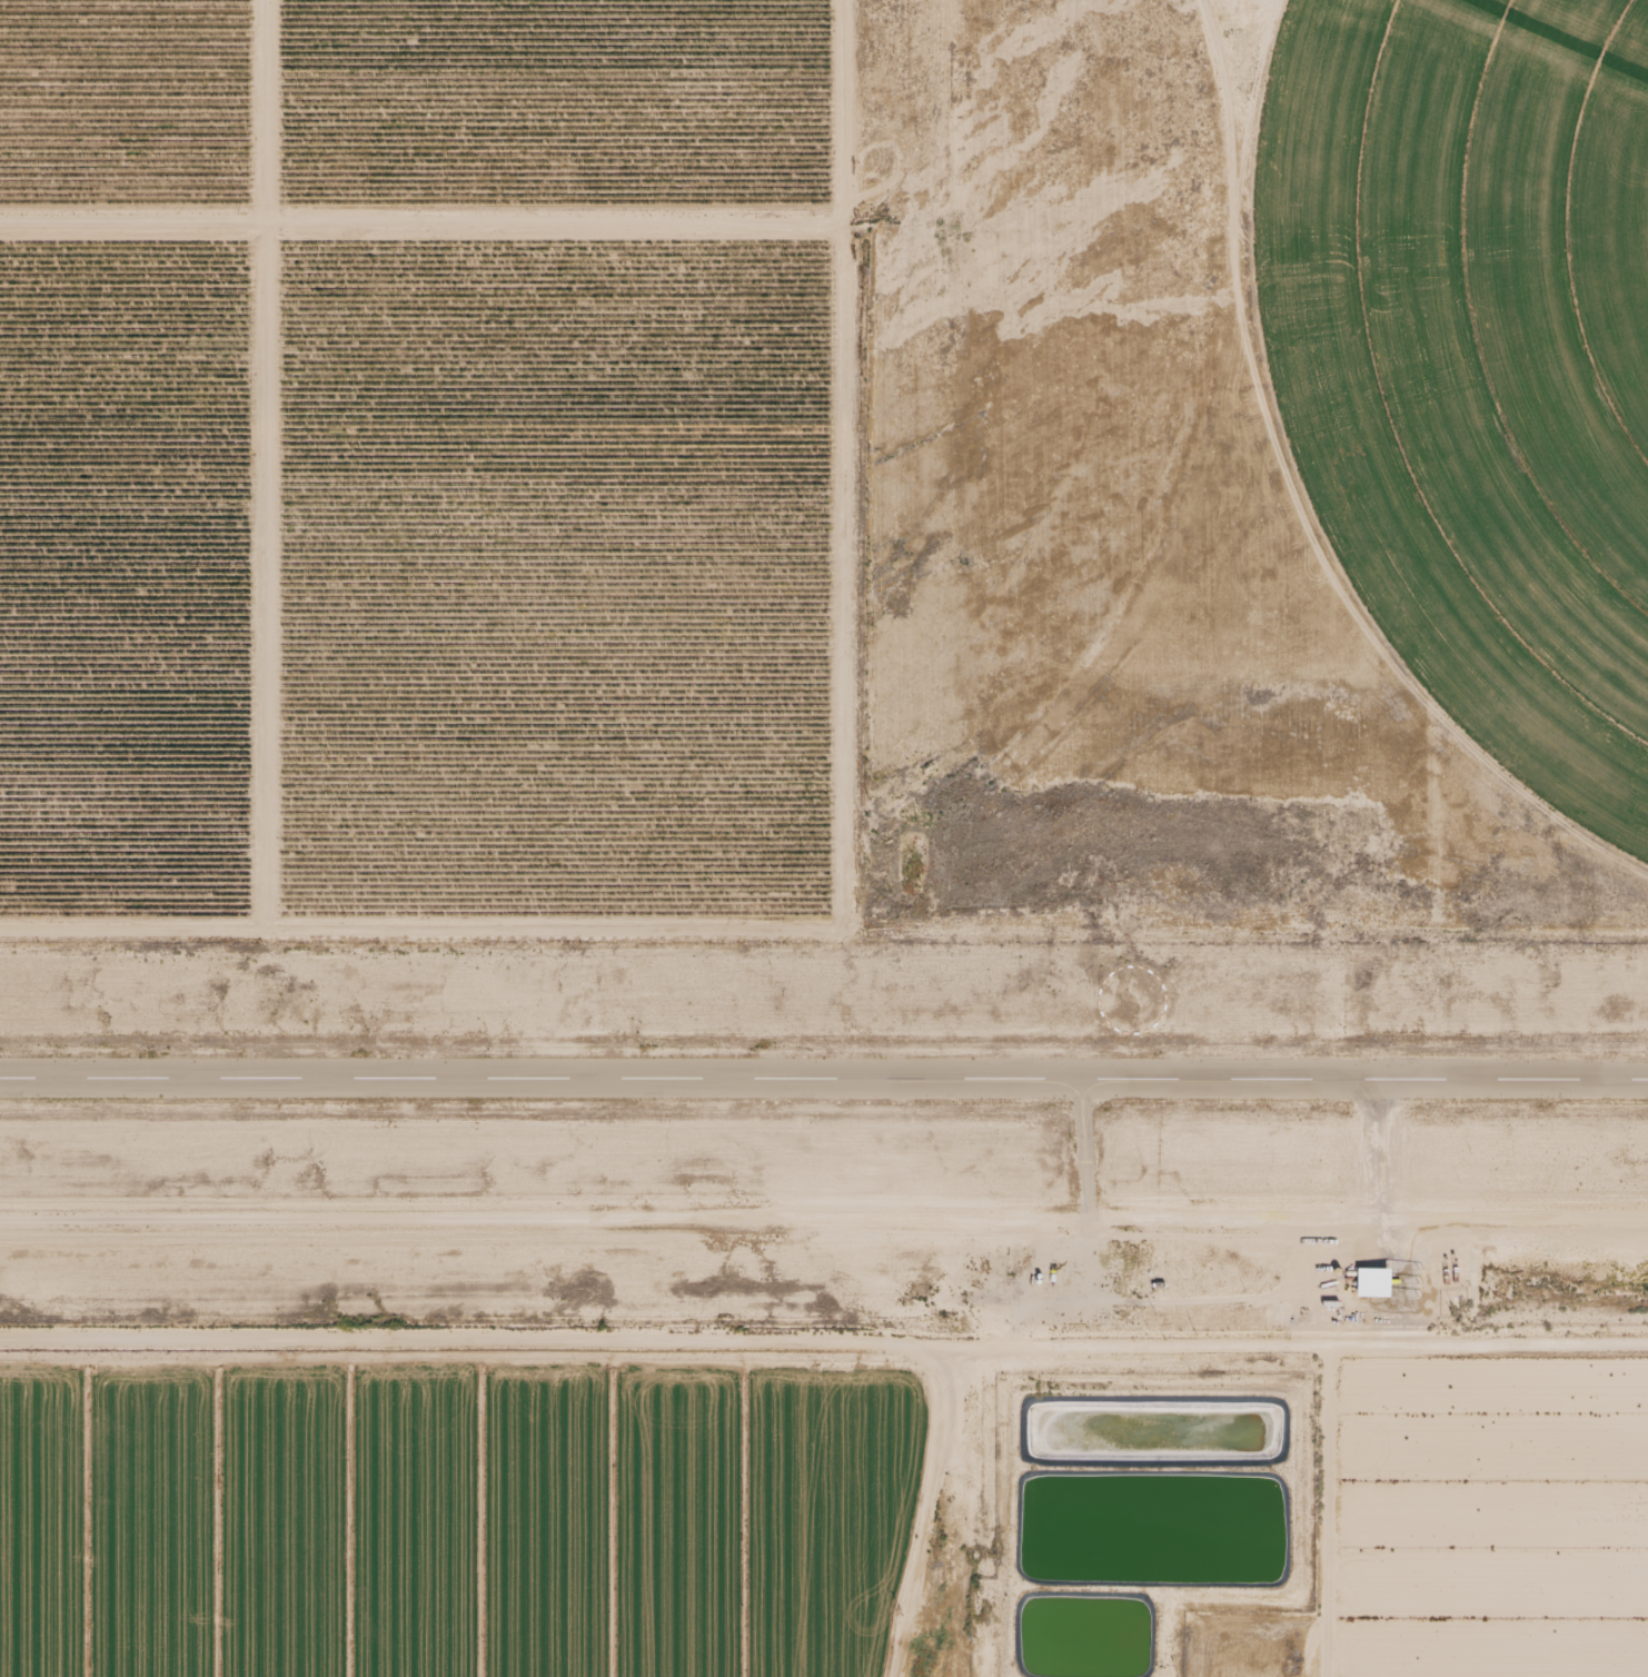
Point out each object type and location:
crop: (1478, 351)
airport runway: (823, 1079)
airport: (824, 1139)
airport taxiway: (1088, 1160)
airport apron: (1070, 1282)
road: (1016, 1332)
road: (823, 1343)
road: (1323, 1509)
road: (969, 1516)
crop: (454, 1519)

